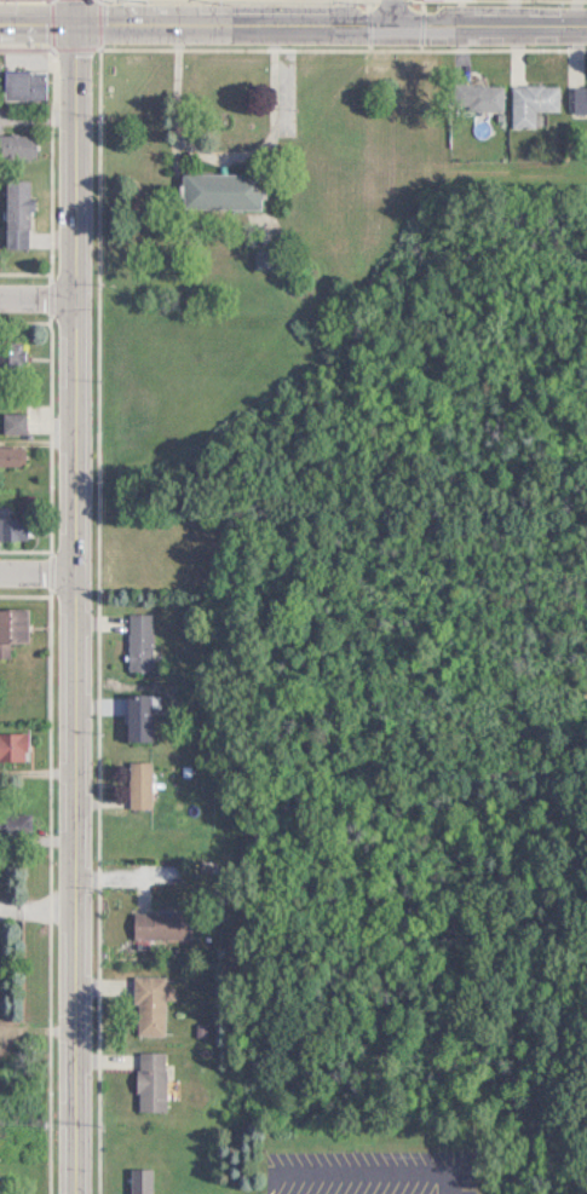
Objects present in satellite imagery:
road: (389, 8)
road: (293, 16)
building: (23, 85)
building: (482, 97)
building: (580, 98)
building: (534, 102)
building: (17, 146)
building: (219, 191)
building: (16, 214)
road: (35, 299)
building: (12, 423)
building: (12, 456)
building: (12, 529)
road: (38, 573)
road: (74, 596)
building: (11, 631)
building: (139, 641)
building: (138, 716)
building: (12, 746)
building: (138, 784)
road: (36, 906)
building: (161, 924)
building: (149, 1004)
building: (150, 1080)
building: (139, 1179)

